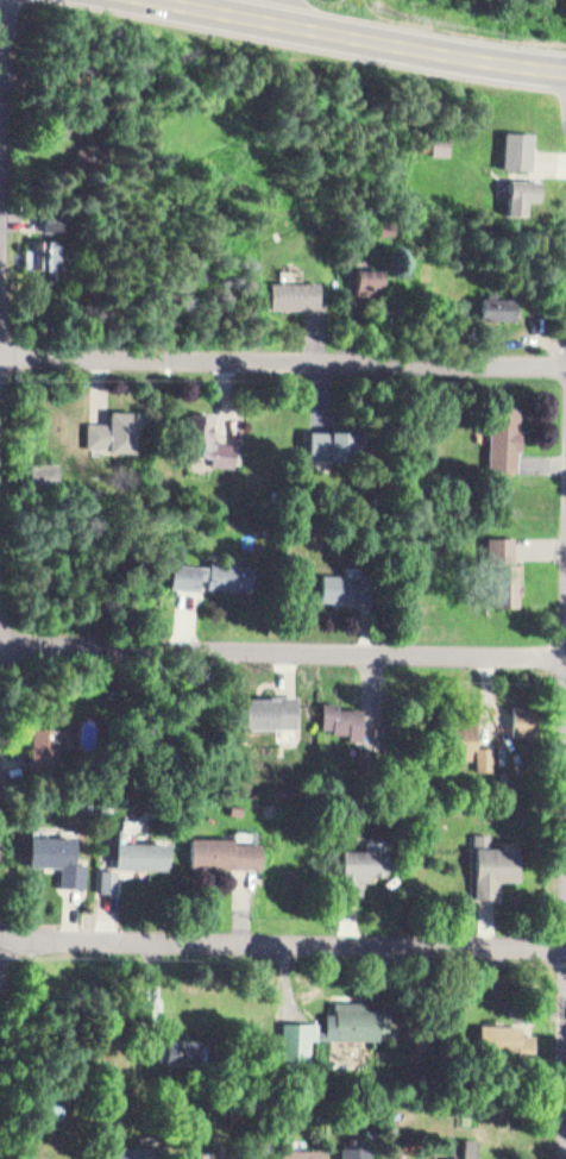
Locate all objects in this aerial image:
road: (281, 10)
road: (367, 38)
road: (2, 96)
building: (444, 140)
building: (520, 146)
road: (4, 156)
building: (99, 159)
building: (524, 192)
building: (51, 242)
building: (369, 280)
building: (294, 292)
building: (496, 302)
road: (283, 359)
building: (117, 428)
building: (505, 436)
building: (209, 440)
building: (334, 441)
building: (48, 472)
building: (214, 572)
building: (509, 572)
building: (342, 584)
road: (282, 646)
building: (272, 709)
building: (345, 716)
building: (528, 716)
building: (464, 737)
building: (45, 743)
building: (372, 752)
building: (489, 757)
building: (269, 806)
building: (237, 807)
building: (225, 851)
building: (141, 852)
building: (57, 857)
building: (363, 860)
building: (493, 863)
building: (108, 877)
road: (282, 941)
building: (155, 1008)
building: (356, 1021)
building: (297, 1041)
building: (183, 1048)
building: (54, 1103)
building: (373, 1129)
building: (467, 1148)
building: (358, 1151)
building: (132, 1152)
building: (298, 1152)
building: (203, 1158)

